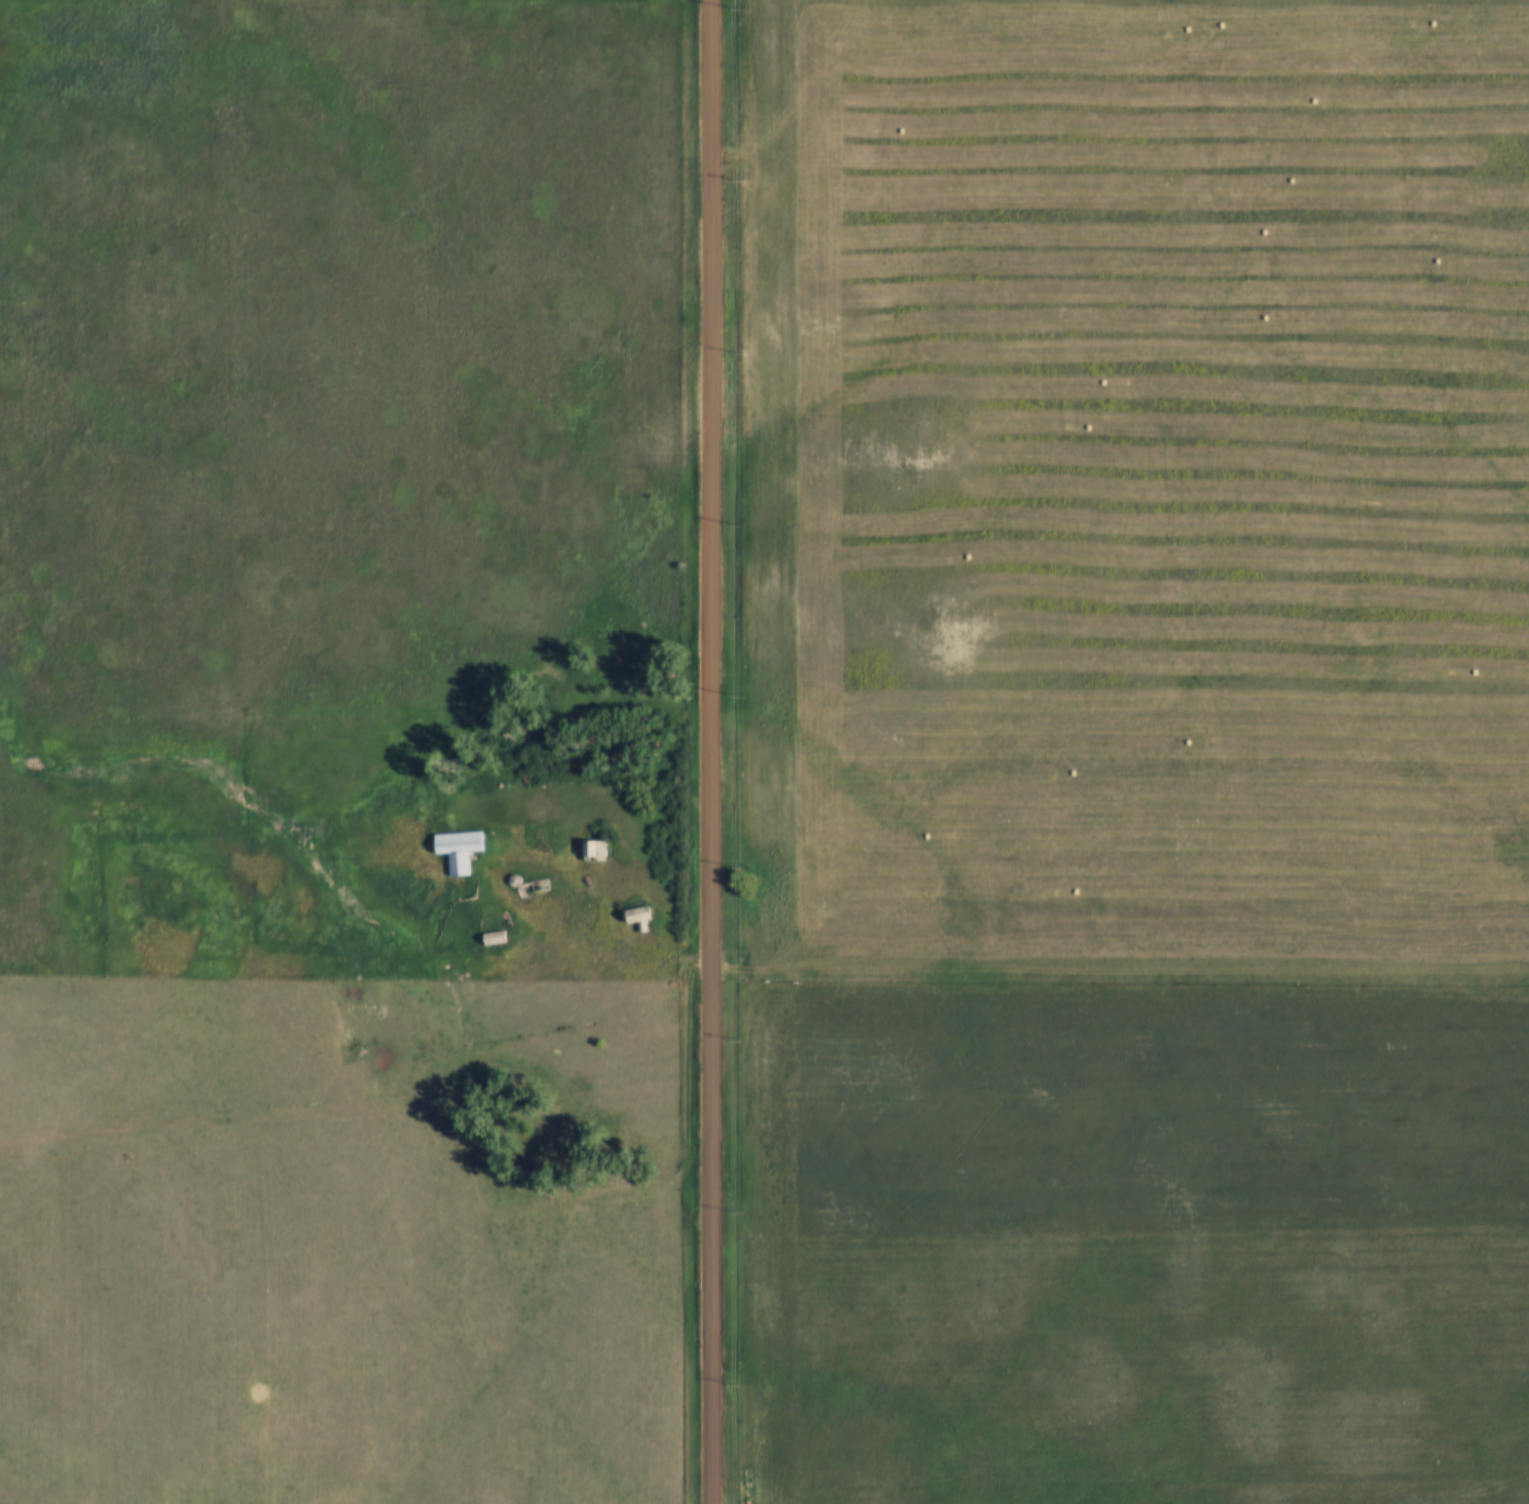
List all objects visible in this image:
road: (708, 752)
building: (463, 849)
building: (599, 849)
building: (644, 914)
road: (615, 962)

